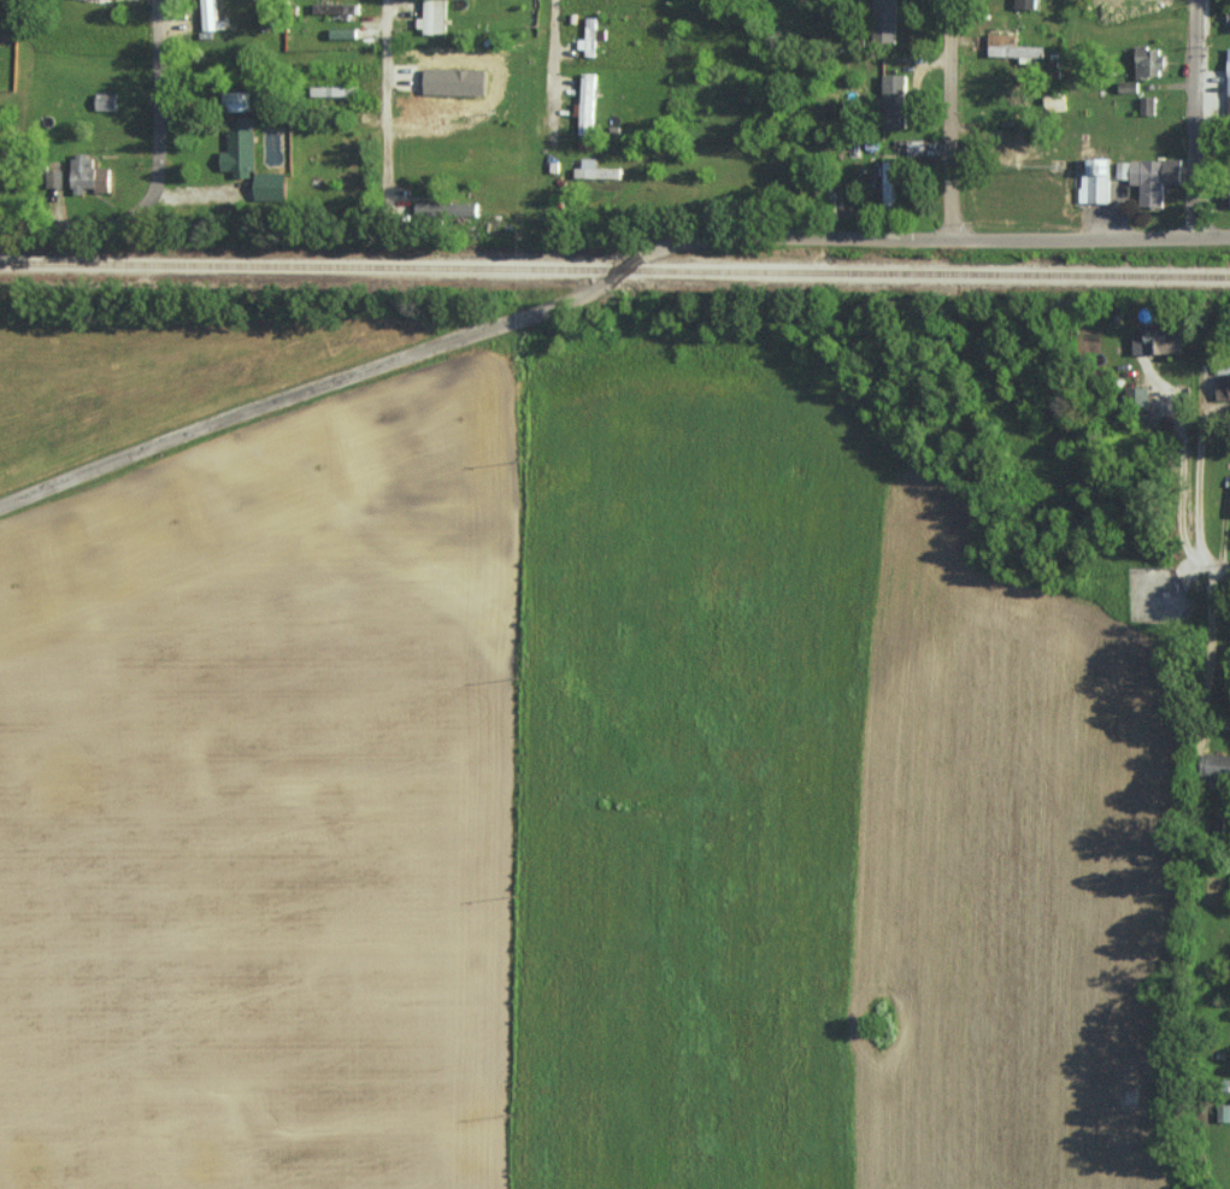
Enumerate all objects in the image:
building: (1025, 2)
building: (335, 7)
building: (207, 14)
building: (432, 17)
building: (884, 20)
building: (342, 33)
building: (589, 36)
building: (1013, 47)
building: (1149, 60)
road: (555, 75)
building: (1229, 80)
building: (334, 90)
building: (106, 100)
building: (236, 100)
building: (894, 100)
building: (1054, 101)
building: (587, 102)
building: (1148, 105)
road: (159, 106)
road: (949, 117)
road: (1193, 119)
road: (387, 123)
building: (916, 147)
building: (239, 154)
building: (595, 170)
building: (88, 175)
building: (1150, 177)
building: (54, 178)
building: (1096, 181)
building: (889, 182)
building: (270, 186)
building: (1228, 193)
building: (446, 210)
road: (75, 226)
road: (923, 235)
railway: (614, 271)
building: (1159, 340)
building: (1223, 387)
road: (311, 395)
building: (1141, 398)
road: (1196, 490)
road: (1214, 573)
road: (1213, 654)
building: (1216, 765)

